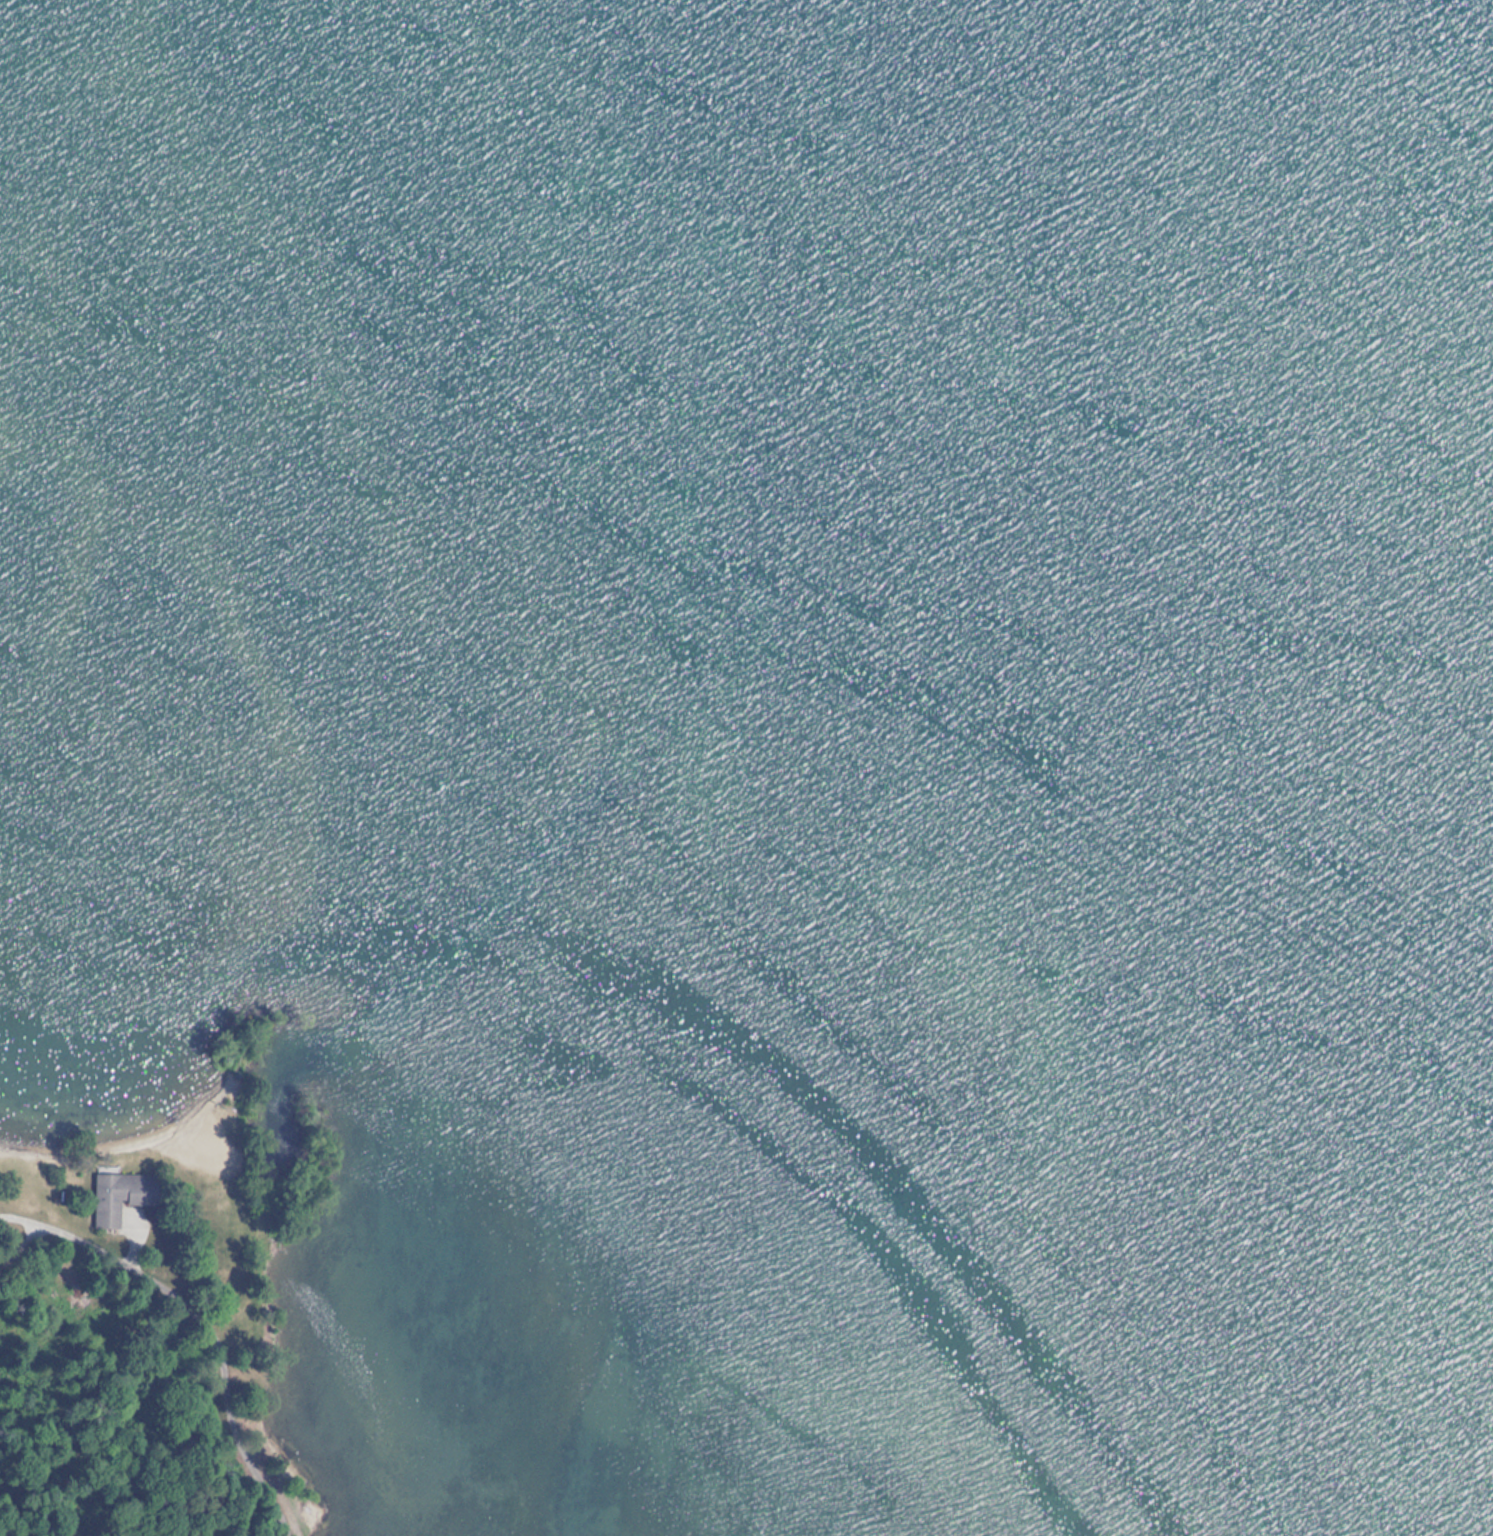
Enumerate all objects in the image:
building: (121, 1196)
road: (94, 1249)

